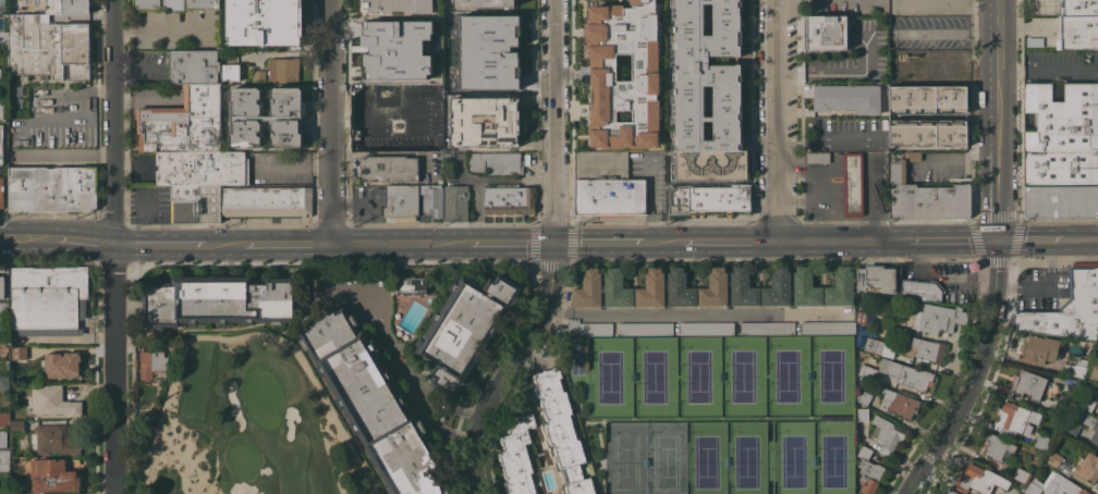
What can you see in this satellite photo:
building: (483, 3)
building: (920, 3)
building: (13, 4)
building: (176, 4)
building: (951, 4)
building: (398, 5)
building: (68, 7)
building: (1079, 7)
building: (893, 8)
building: (259, 21)
road: (162, 29)
road: (945, 29)
building: (1077, 32)
building: (827, 33)
building: (2, 38)
building: (47, 47)
building: (394, 48)
building: (487, 51)
road: (955, 52)
building: (228, 55)
building: (830, 61)
building: (900, 61)
building: (943, 65)
road: (963, 65)
road: (135, 66)
building: (194, 66)
building: (283, 69)
building: (875, 70)
building: (231, 72)
building: (0, 73)
building: (623, 74)
building: (706, 74)
building: (258, 75)
road: (46, 90)
building: (382, 95)
building: (847, 98)
road: (144, 99)
building: (927, 99)
building: (418, 109)
building: (3, 111)
building: (266, 116)
building: (1061, 116)
road: (998, 119)
road: (776, 120)
building: (485, 121)
building: (183, 122)
road: (331, 122)
building: (382, 131)
building: (927, 132)
road: (825, 139)
building: (1, 144)
road: (382, 151)
road: (62, 153)
building: (912, 155)
building: (817, 157)
road: (957, 157)
road: (292, 162)
building: (497, 162)
building: (1062, 166)
building: (202, 168)
building: (390, 168)
building: (898, 171)
road: (483, 180)
building: (853, 183)
building: (607, 185)
building: (53, 188)
building: (1, 193)
building: (199, 199)
building: (431, 199)
building: (710, 199)
building: (265, 200)
building: (510, 200)
building: (1061, 200)
building: (401, 201)
building: (929, 201)
building: (455, 202)
road: (375, 203)
road: (650, 206)
road: (143, 209)
traffic signals: (997, 239)
road: (1035, 239)
road: (1086, 239)
road: (30, 240)
road: (722, 240)
road: (841, 240)
road: (951, 240)
road: (88, 243)
road: (505, 243)
traffic signals: (552, 243)
road: (610, 243)
road: (394, 244)
road: (173, 245)
road: (281, 245)
road: (114, 246)
road: (551, 257)
building: (876, 279)
building: (411, 285)
building: (2, 286)
building: (778, 287)
building: (806, 287)
building: (841, 287)
building: (588, 288)
building: (617, 288)
building: (651, 288)
building: (680, 288)
building: (715, 288)
building: (743, 288)
road: (1047, 288)
building: (922, 289)
building: (47, 297)
building: (219, 300)
building: (3, 308)
building: (1066, 308)
road: (697, 313)
building: (861, 317)
building: (938, 318)
building: (588, 328)
building: (645, 328)
building: (706, 328)
building: (767, 328)
building: (828, 328)
building: (464, 329)
road: (245, 334)
building: (879, 346)
building: (4, 347)
building: (1097, 347)
building: (927, 349)
building: (1038, 349)
building: (29, 353)
road: (398, 358)
building: (150, 363)
building: (69, 366)
building: (1074, 368)
building: (867, 371)
building: (1093, 371)
park: (830, 373)
park: (742, 374)
park: (786, 374)
building: (907, 374)
road: (974, 374)
park: (654, 375)
park: (697, 375)
park: (609, 376)
building: (4, 382)
building: (1026, 385)
building: (864, 396)
building: (53, 400)
building: (373, 403)
building: (898, 403)
building: (1086, 403)
building: (862, 413)
building: (4, 419)
building: (1014, 419)
park: (246, 423)
building: (16, 425)
building: (1072, 428)
building: (1091, 428)
building: (562, 431)
building: (886, 434)
building: (3, 439)
building: (53, 440)
building: (1040, 442)
building: (997, 447)
building: (516, 456)
park: (792, 457)
park: (831, 457)
park: (623, 458)
park: (663, 458)
park: (705, 458)
park: (745, 458)
building: (4, 460)
building: (1057, 461)
building: (1087, 467)
building: (868, 471)
building: (52, 476)
building: (1021, 476)
building: (978, 479)
building: (1054, 485)
building: (951, 492)

